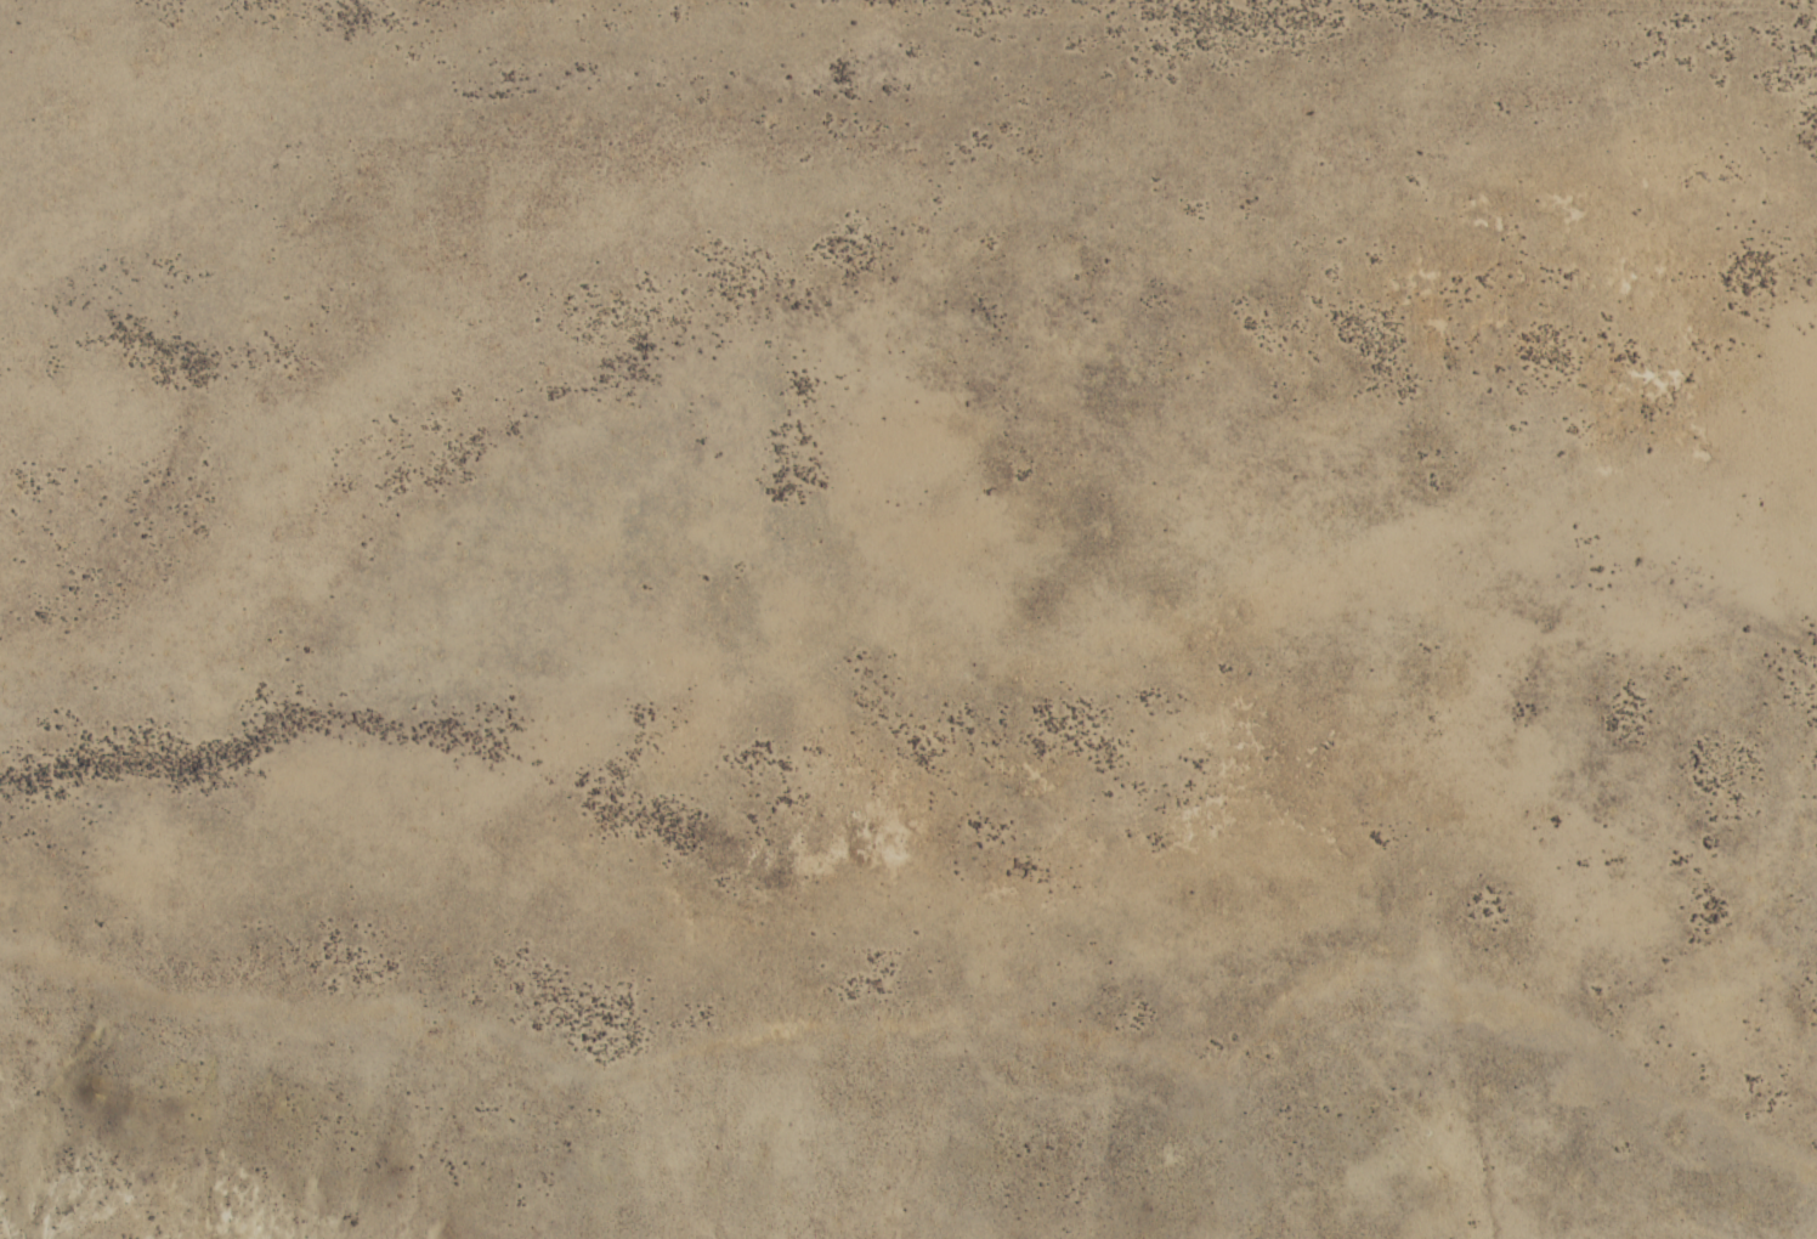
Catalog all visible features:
road: (1715, 6)

